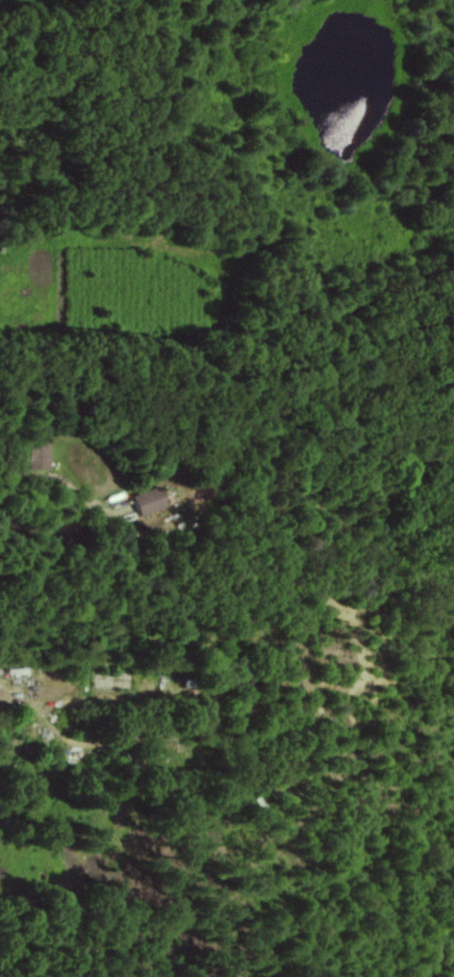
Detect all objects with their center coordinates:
building: (38, 454)
building: (148, 500)

